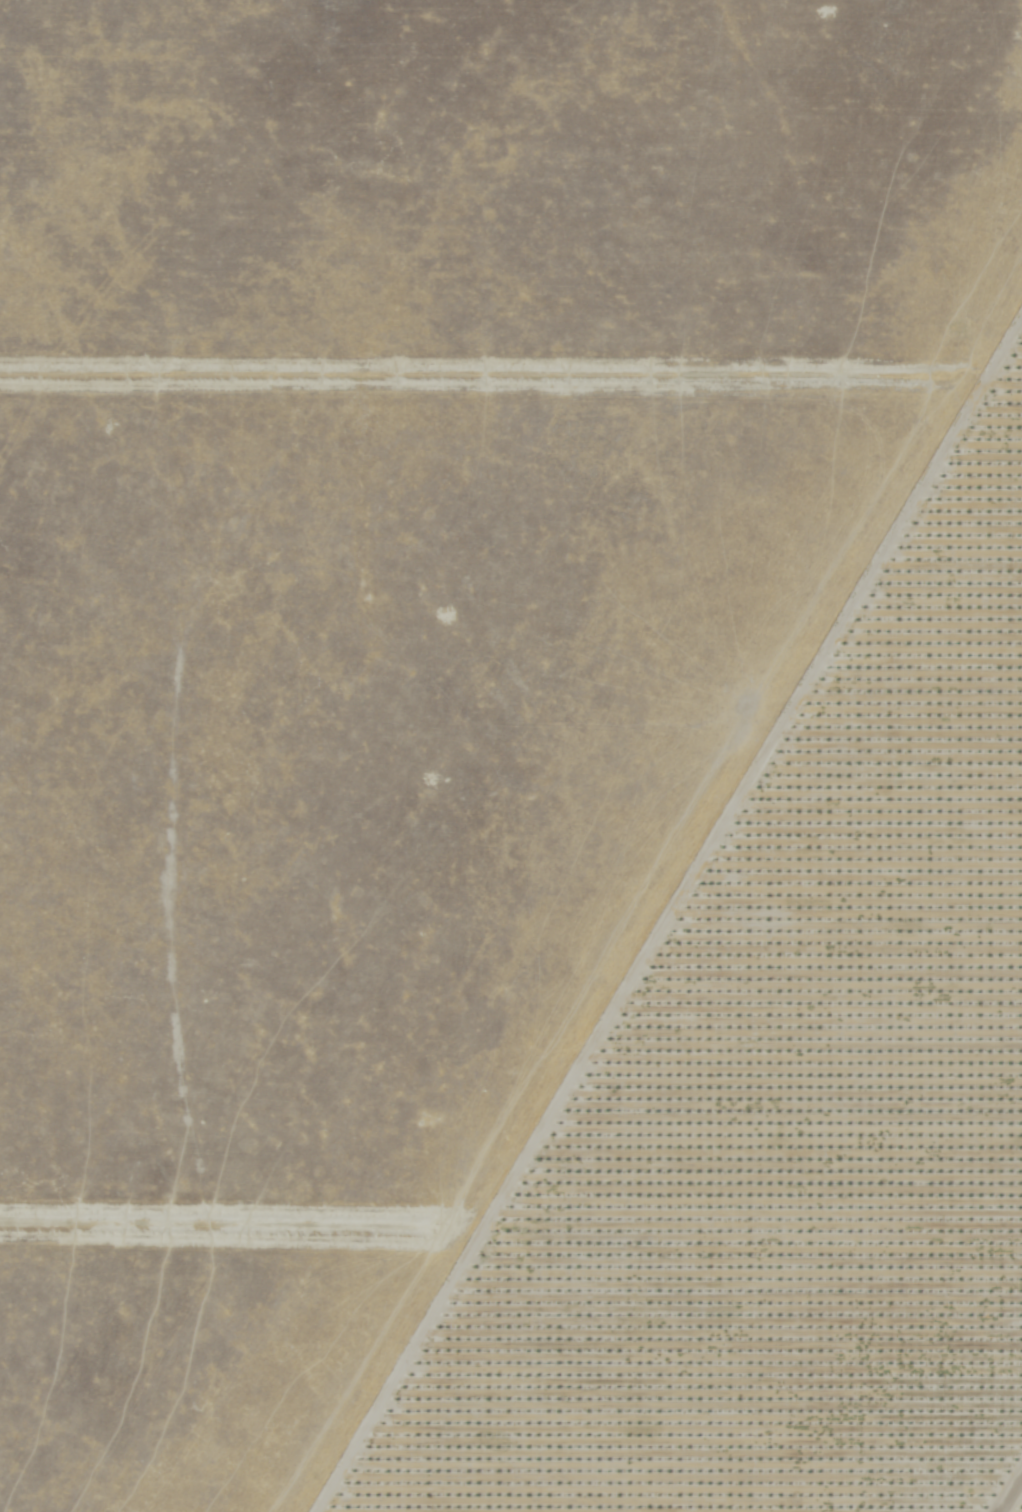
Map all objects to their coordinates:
crop: (402, 616)
crop: (789, 1110)

